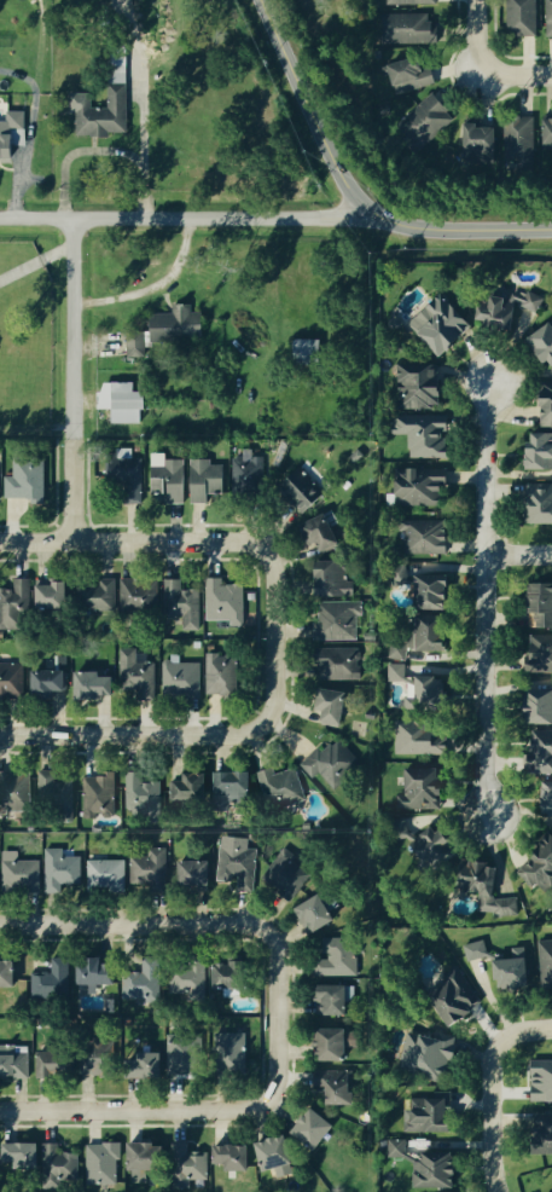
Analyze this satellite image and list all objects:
building: (412, 1)
building: (524, 13)
building: (550, 16)
building: (403, 27)
road: (469, 36)
building: (414, 74)
road: (515, 77)
building: (438, 112)
building: (104, 114)
building: (551, 133)
building: (11, 134)
building: (484, 139)
building: (522, 143)
road: (143, 150)
road: (81, 151)
road: (350, 191)
road: (184, 216)
road: (35, 262)
road: (155, 288)
building: (446, 323)
building: (169, 332)
building: (547, 342)
building: (304, 351)
road: (71, 378)
building: (428, 390)
building: (124, 403)
building: (550, 411)
building: (430, 438)
building: (542, 452)
building: (0, 475)
building: (130, 479)
building: (170, 479)
building: (251, 479)
building: (208, 480)
building: (28, 481)
building: (301, 487)
building: (424, 488)
building: (542, 500)
building: (326, 531)
building: (429, 537)
road: (222, 540)
road: (518, 555)
building: (401, 577)
building: (335, 580)
building: (438, 592)
building: (134, 594)
building: (56, 595)
building: (103, 597)
road: (483, 597)
building: (545, 600)
building: (226, 602)
building: (16, 606)
building: (341, 621)
building: (424, 638)
building: (541, 655)
building: (62, 664)
building: (339, 664)
building: (396, 672)
building: (138, 675)
building: (13, 676)
building: (185, 676)
building: (222, 676)
building: (52, 684)
building: (97, 687)
building: (432, 695)
building: (335, 707)
building: (539, 724)
road: (130, 734)
building: (422, 740)
building: (330, 760)
building: (280, 783)
building: (238, 786)
building: (16, 787)
building: (191, 789)
building: (56, 791)
building: (429, 794)
building: (100, 797)
building: (144, 797)
building: (550, 802)
building: (436, 846)
building: (28, 854)
building: (237, 863)
building: (150, 869)
building: (540, 869)
building: (62, 872)
building: (22, 873)
building: (108, 873)
building: (197, 873)
building: (316, 915)
road: (133, 922)
building: (477, 950)
building: (341, 957)
building: (547, 964)
building: (517, 971)
building: (100, 973)
building: (8, 976)
building: (233, 976)
building: (53, 980)
building: (190, 983)
building: (145, 984)
building: (337, 1001)
building: (244, 1037)
building: (336, 1046)
building: (168, 1055)
building: (434, 1058)
building: (14, 1063)
building: (82, 1063)
building: (544, 1082)
building: (332, 1086)
road: (490, 1087)
road: (221, 1110)
building: (441, 1116)
building: (316, 1130)
building: (540, 1140)
building: (399, 1148)
building: (278, 1156)
building: (147, 1157)
building: (237, 1158)
building: (104, 1163)
building: (69, 1165)
building: (196, 1165)
building: (441, 1173)

